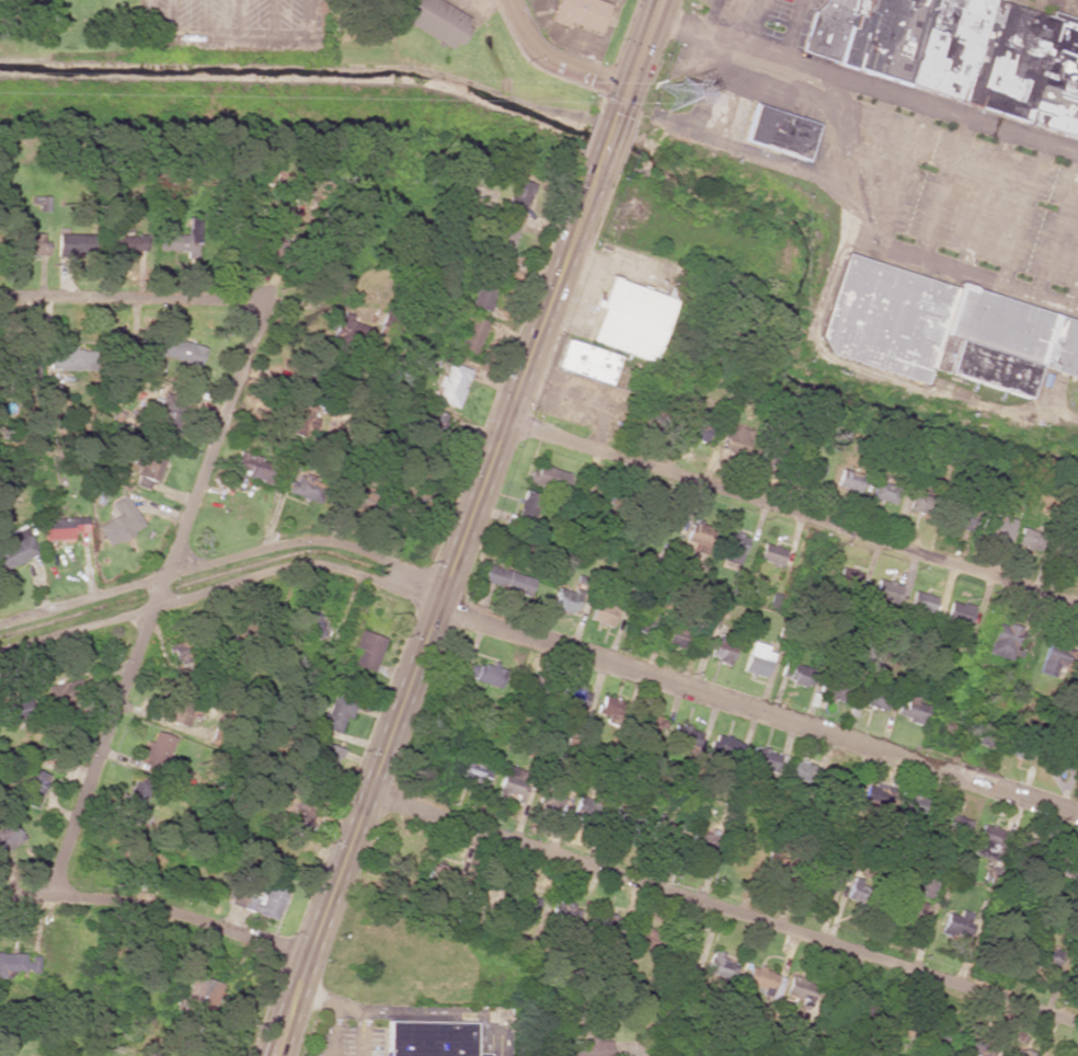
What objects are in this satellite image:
building: (581, 13)
building: (434, 20)
road: (644, 45)
building: (960, 51)
road: (554, 61)
power tower: (676, 93)
building: (776, 131)
building: (301, 187)
building: (517, 198)
building: (41, 204)
building: (498, 238)
building: (72, 243)
building: (127, 243)
building: (27, 244)
building: (484, 289)
road: (130, 300)
building: (881, 318)
building: (628, 320)
building: (1011, 326)
building: (349, 328)
building: (468, 334)
building: (175, 349)
building: (67, 359)
building: (586, 361)
building: (449, 384)
building: (167, 417)
building: (301, 420)
building: (695, 424)
building: (735, 443)
building: (148, 464)
building: (252, 467)
building: (807, 467)
building: (547, 478)
building: (847, 481)
building: (302, 487)
building: (884, 489)
building: (916, 498)
building: (617, 507)
building: (526, 508)
road: (791, 513)
building: (964, 516)
building: (118, 523)
building: (61, 528)
building: (995, 530)
building: (697, 533)
building: (1025, 538)
building: (15, 548)
building: (730, 548)
building: (769, 554)
road: (222, 561)
road: (445, 572)
building: (846, 577)
building: (506, 581)
road: (217, 586)
building: (884, 590)
road: (157, 601)
building: (564, 601)
building: (920, 601)
building: (601, 611)
building: (956, 612)
building: (640, 619)
building: (311, 625)
building: (679, 636)
building: (1001, 641)
building: (721, 648)
building: (366, 650)
building: (756, 659)
building: (1052, 659)
building: (793, 673)
building: (485, 675)
building: (835, 689)
building: (873, 699)
building: (610, 709)
road: (755, 710)
building: (911, 710)
building: (337, 711)
building: (646, 723)
building: (942, 730)
building: (686, 736)
building: (988, 737)
building: (1020, 744)
building: (724, 747)
building: (158, 749)
building: (767, 760)
building: (1057, 762)
building: (322, 764)
building: (802, 772)
building: (473, 776)
building: (509, 785)
building: (31, 787)
building: (878, 797)
building: (140, 799)
building: (910, 804)
building: (589, 810)
building: (303, 812)
building: (956, 824)
building: (665, 829)
building: (8, 837)
building: (989, 842)
building: (775, 875)
building: (440, 882)
building: (822, 882)
building: (860, 888)
building: (257, 902)
building: (521, 903)
road: (722, 904)
road: (154, 906)
building: (562, 923)
building: (957, 923)
building: (607, 930)
building: (644, 939)
building: (683, 946)
building: (1044, 955)
building: (720, 964)
building: (12, 965)
building: (758, 980)
building: (800, 988)
road: (414, 1011)
building: (944, 1033)
building: (427, 1038)
building: (582, 1047)

